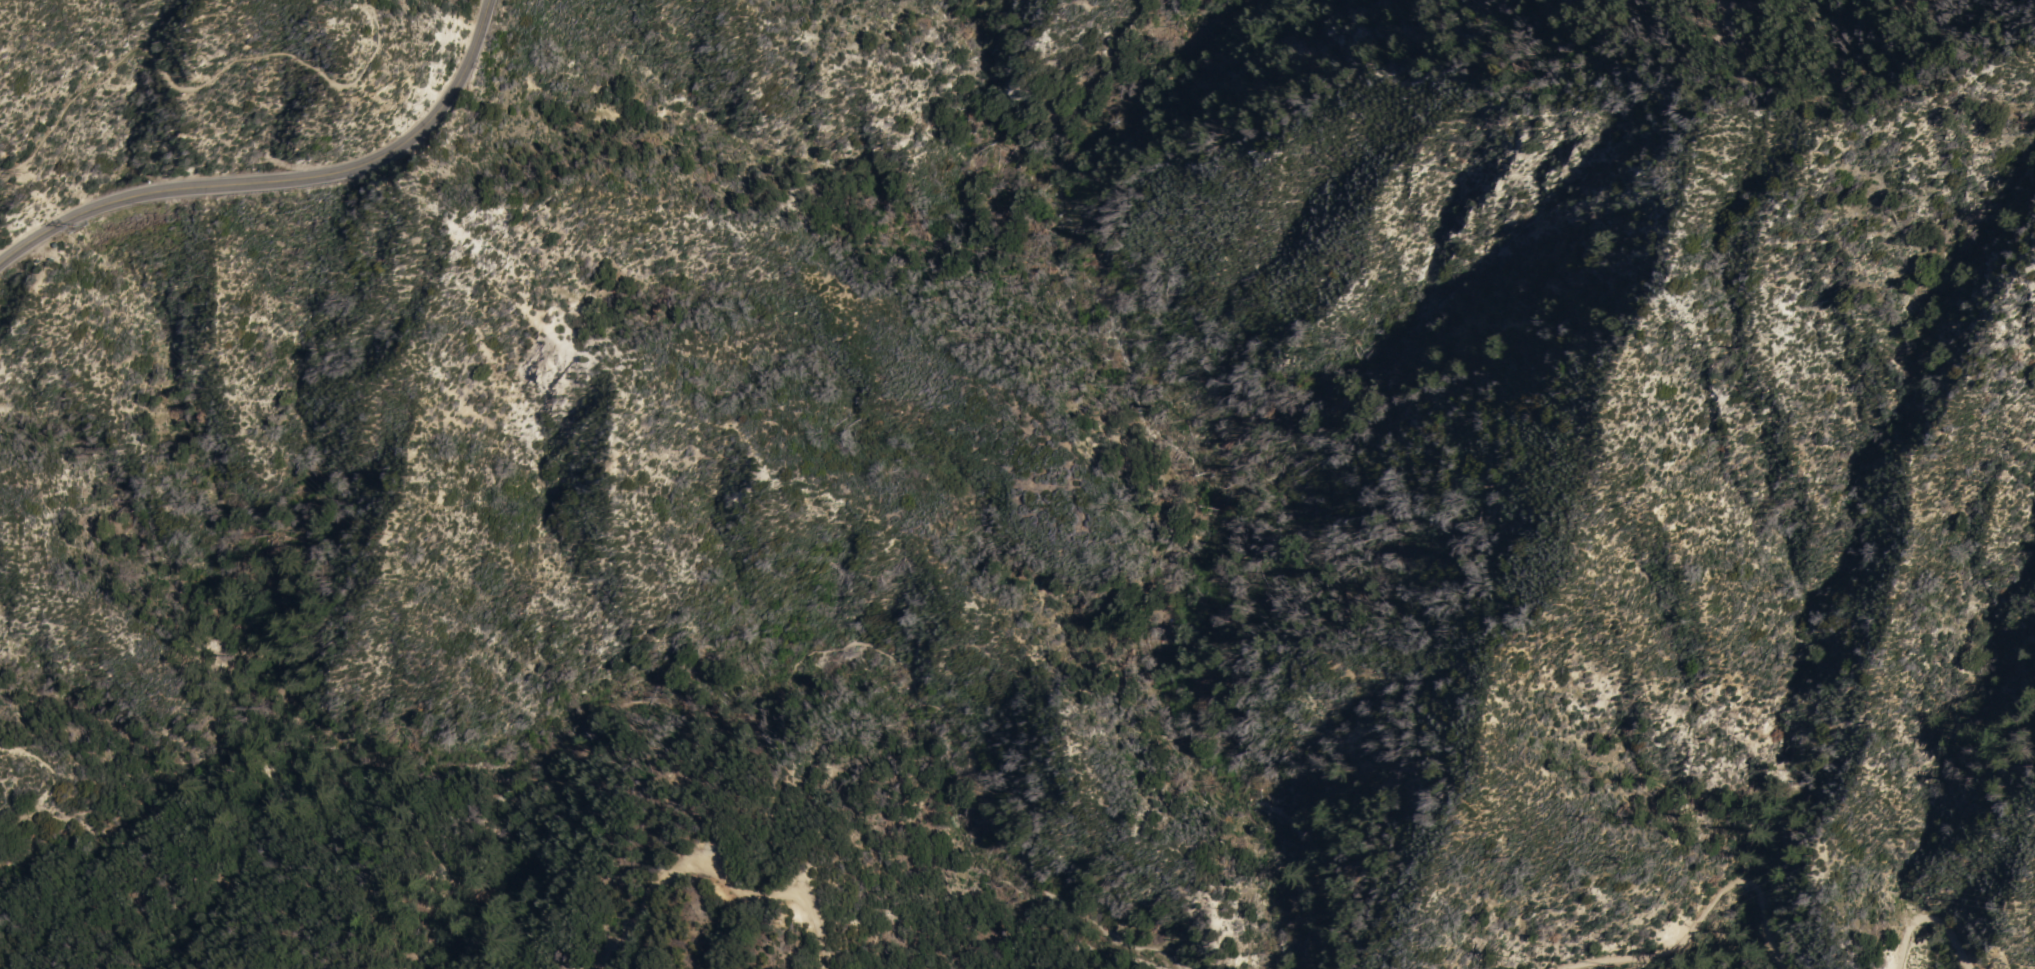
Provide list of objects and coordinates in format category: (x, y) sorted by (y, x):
road: (198, 86)
road: (286, 180)
power substation: (44, 264)
road: (564, 773)
road: (711, 873)
road: (1706, 925)
road: (1932, 928)

